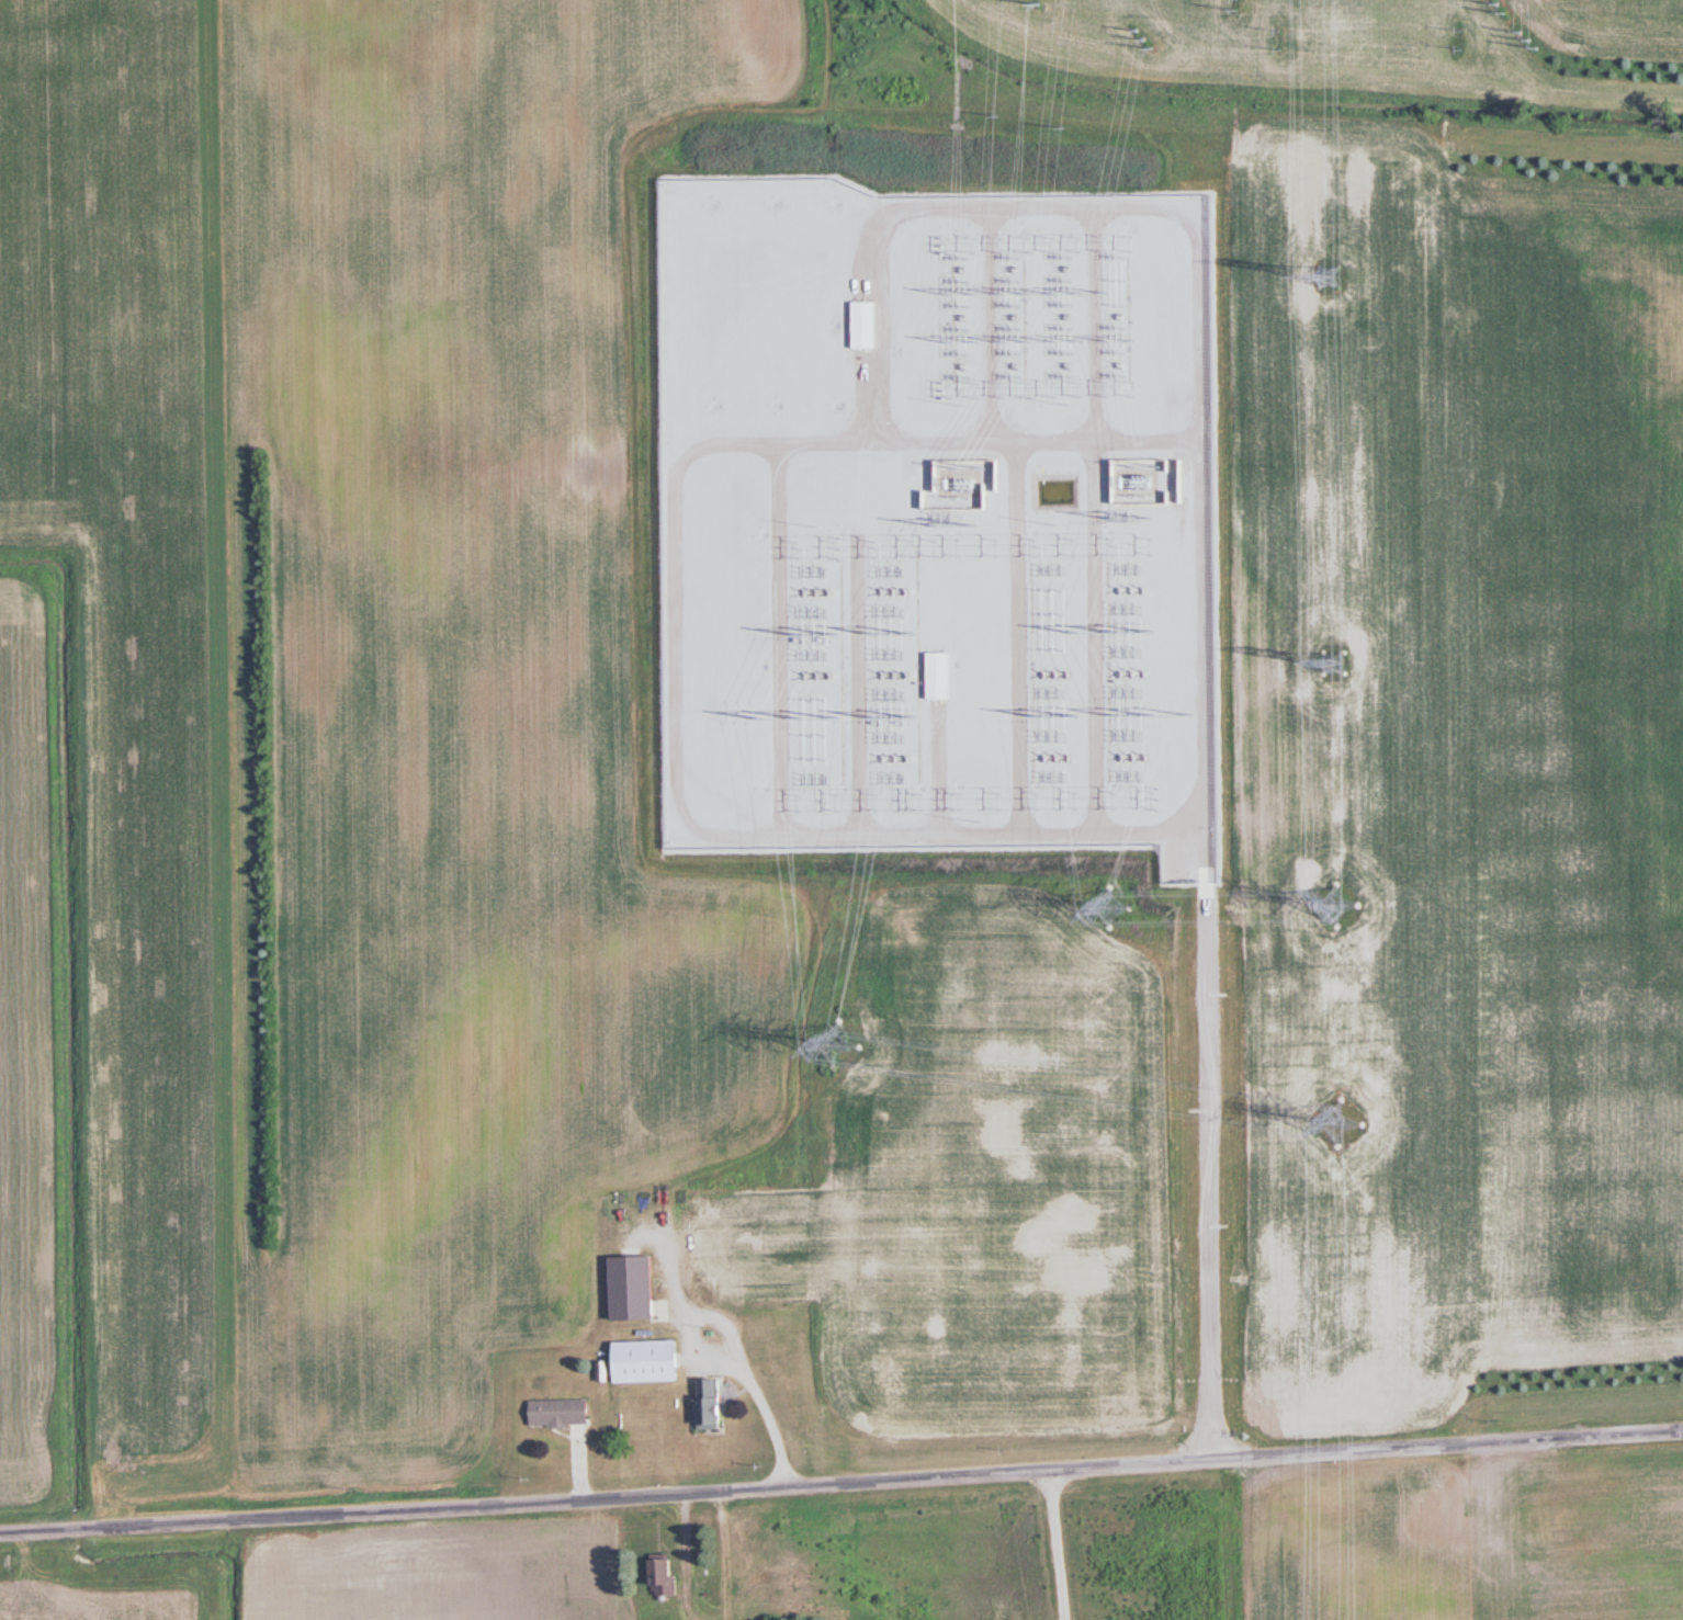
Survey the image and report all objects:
power tower: (1331, 276)
building: (863, 322)
power substation: (938, 519)
power tower: (1331, 658)
building: (938, 675)
power tower: (1116, 897)
power tower: (1334, 899)
power tower: (841, 1046)
power tower: (1341, 1124)
road: (1207, 1128)
building: (749, 1210)
building: (640, 1288)
road: (723, 1337)
building: (652, 1360)
building: (713, 1402)
building: (563, 1411)
road: (1208, 1417)
road: (841, 1480)
road: (1057, 1543)
building: (668, 1575)

